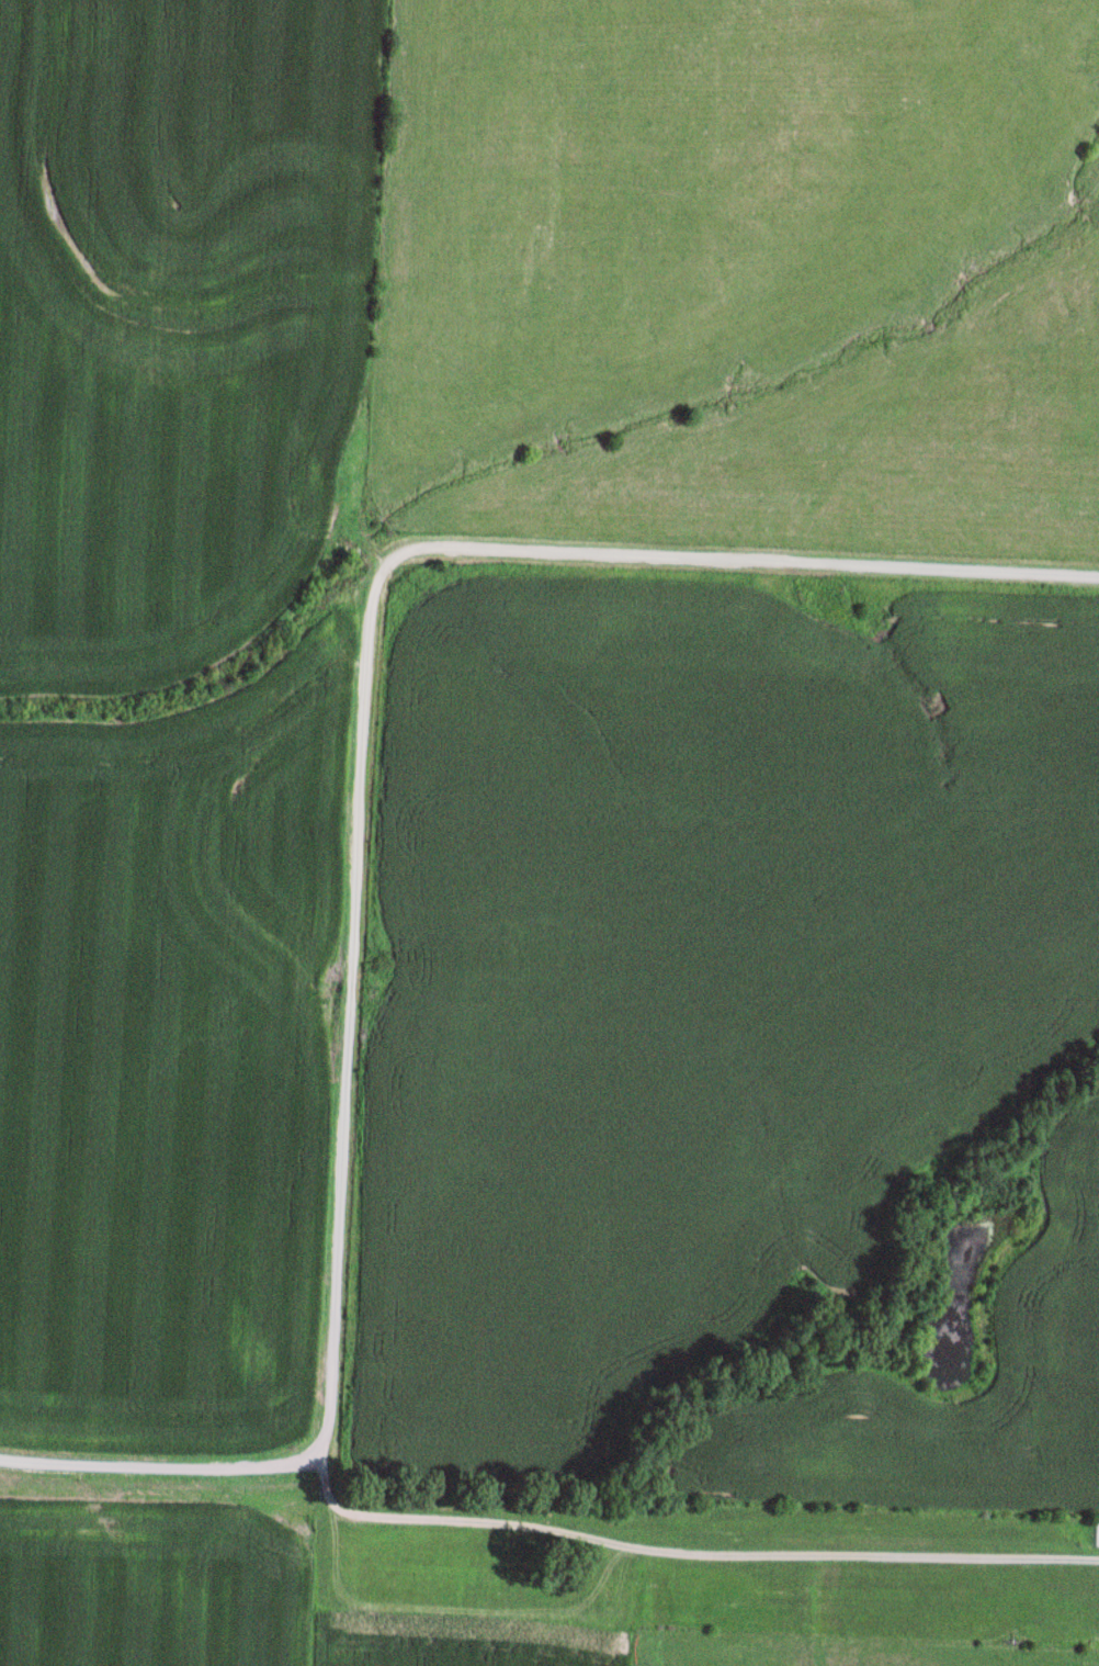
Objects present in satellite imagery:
road: (369, 654)
road: (161, 1463)
road: (693, 1551)

